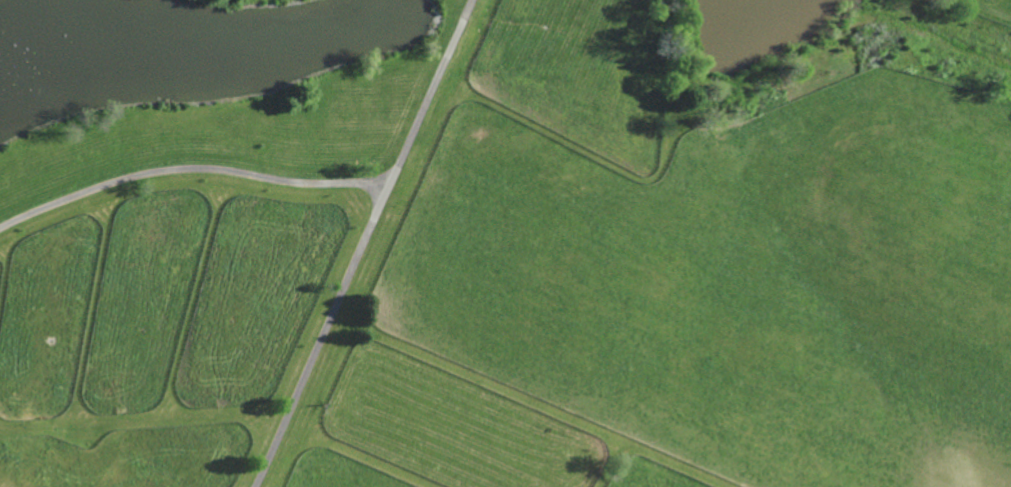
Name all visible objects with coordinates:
road: (429, 91)
road: (189, 169)
road: (320, 334)

